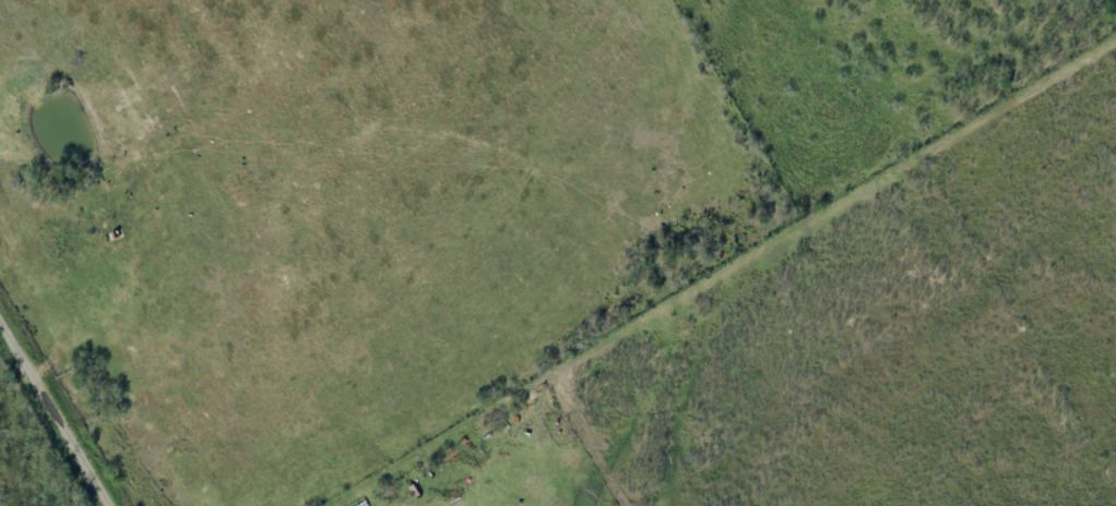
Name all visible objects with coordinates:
road: (59, 405)

